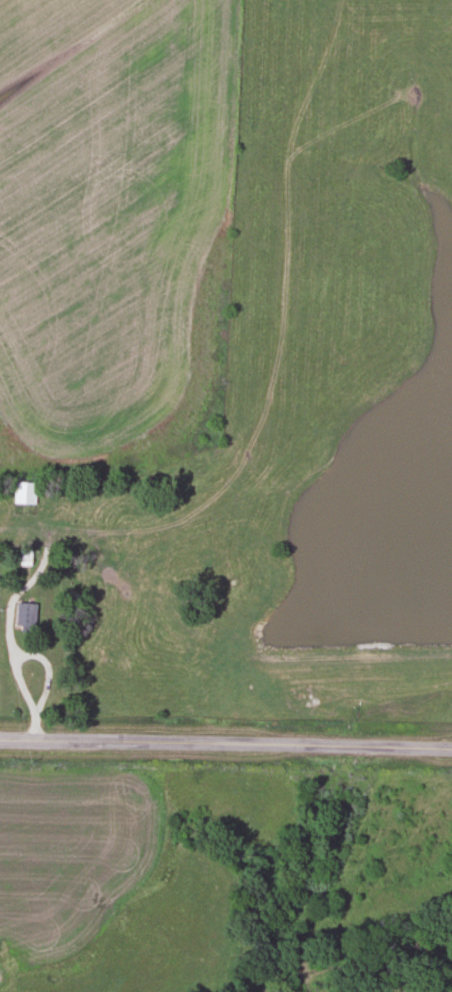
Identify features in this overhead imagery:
crop: (113, 228)
dam: (358, 643)
road: (226, 742)

